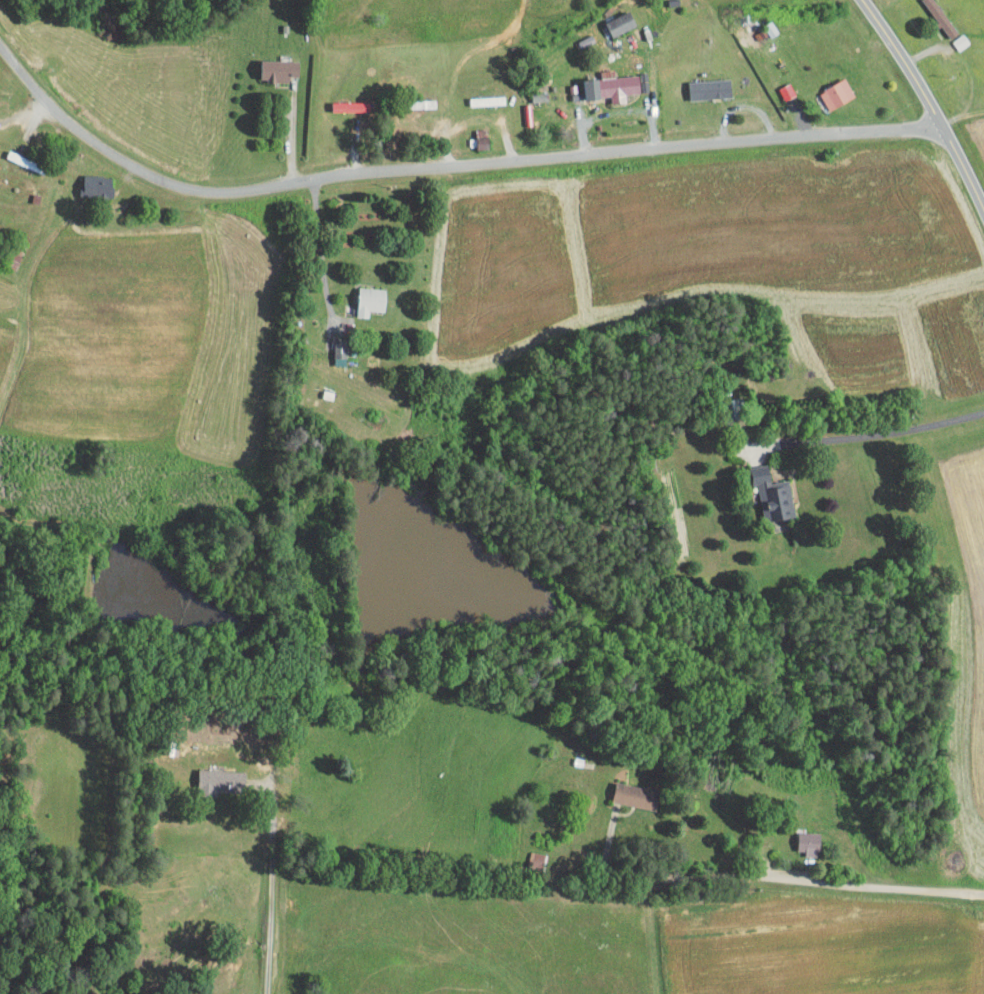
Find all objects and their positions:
building: (610, 17)
building: (268, 64)
building: (602, 81)
building: (701, 82)
building: (777, 85)
building: (827, 88)
building: (477, 94)
road: (927, 103)
road: (292, 132)
road: (626, 151)
road: (132, 170)
building: (88, 180)
road: (315, 240)
building: (361, 294)
building: (332, 342)
road: (873, 434)
building: (764, 491)
building: (211, 776)
building: (626, 790)
building: (799, 837)
building: (526, 855)
road: (798, 878)
road: (270, 892)

